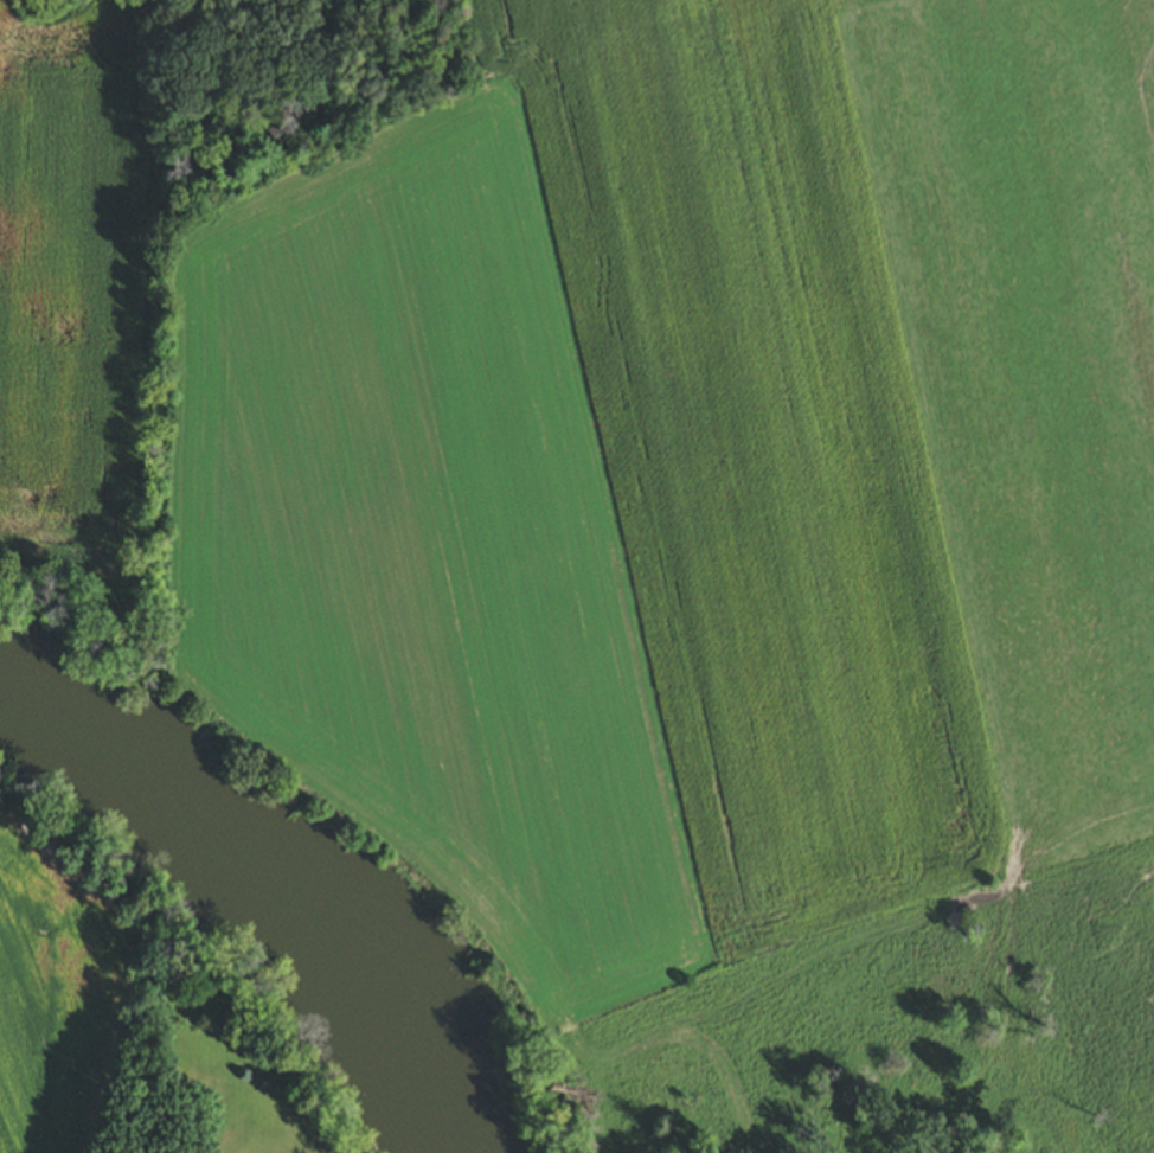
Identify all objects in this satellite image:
river: (276, 878)

